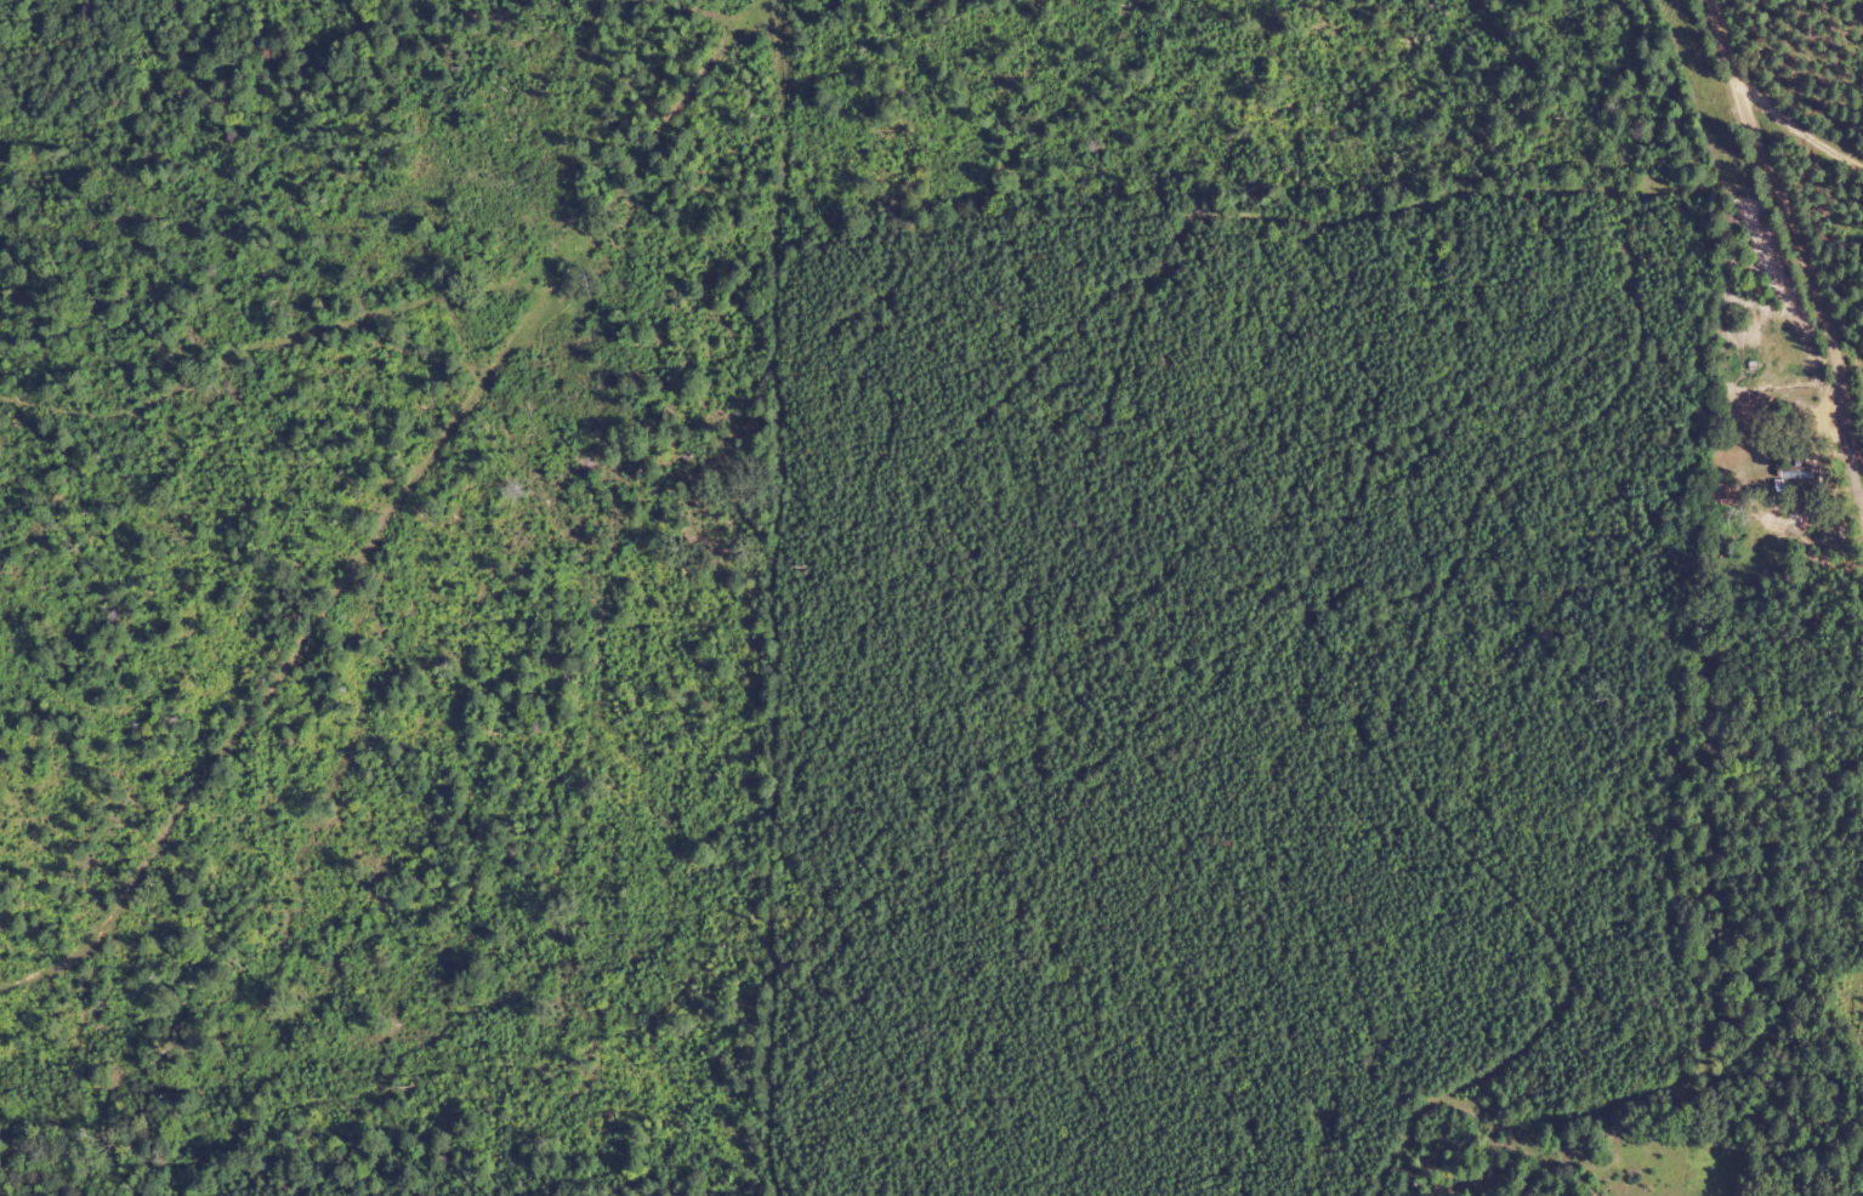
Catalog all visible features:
road: (1770, 341)

